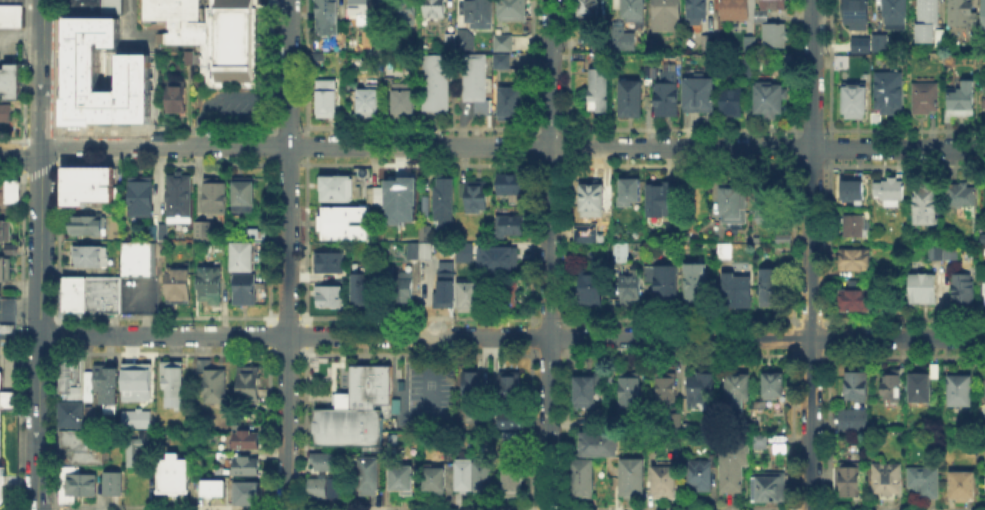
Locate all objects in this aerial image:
parking lot: (10, 2)
building: (772, 4)
building: (91, 6)
building: (587, 8)
building: (630, 8)
building: (170, 9)
building: (360, 9)
building: (434, 9)
building: (513, 9)
building: (734, 10)
building: (696, 11)
building: (403, 12)
building: (479, 12)
building: (856, 14)
building: (895, 14)
building: (962, 14)
building: (326, 15)
building: (11, 16)
building: (665, 16)
building: (760, 16)
building: (983, 16)
building: (929, 23)
parking lot: (132, 30)
building: (774, 36)
building: (620, 37)
building: (231, 38)
building: (193, 39)
building: (465, 40)
building: (450, 41)
building: (503, 42)
building: (706, 42)
building: (858, 43)
building: (879, 43)
building: (749, 44)
parking lot: (8, 47)
building: (379, 48)
building: (187, 55)
building: (595, 55)
building: (787, 59)
building: (839, 60)
building: (504, 64)
building: (748, 69)
building: (103, 73)
building: (474, 78)
building: (9, 81)
building: (436, 82)
building: (598, 90)
building: (664, 92)
building: (888, 92)
building: (699, 96)
building: (174, 97)
building: (326, 98)
building: (403, 98)
building: (925, 98)
building: (631, 99)
building: (768, 99)
building: (855, 100)
building: (367, 101)
building: (962, 101)
building: (511, 102)
building: (731, 102)
building: (984, 104)
building: (6, 114)
building: (875, 120)
road: (491, 147)
building: (84, 183)
building: (514, 185)
building: (346, 187)
building: (632, 191)
building: (889, 191)
building: (852, 192)
building: (10, 195)
building: (376, 196)
building: (409, 196)
building: (244, 197)
building: (142, 198)
building: (477, 198)
building: (216, 199)
building: (665, 200)
building: (180, 201)
building: (963, 201)
building: (595, 203)
building: (445, 205)
building: (734, 205)
building: (925, 205)
building: (773, 207)
building: (345, 225)
building: (88, 227)
building: (510, 228)
building: (855, 228)
building: (205, 232)
building: (6, 233)
building: (255, 233)
building: (427, 233)
building: (587, 236)
building: (784, 240)
building: (162, 241)
building: (13, 251)
building: (462, 251)
building: (428, 252)
building: (623, 253)
building: (725, 253)
building: (944, 253)
road: (39, 254)
building: (89, 254)
road: (287, 254)
road: (549, 254)
road: (809, 254)
building: (496, 257)
building: (136, 258)
building: (244, 258)
building: (855, 261)
building: (331, 264)
building: (6, 272)
building: (70, 284)
building: (667, 284)
building: (698, 286)
building: (180, 287)
building: (404, 287)
building: (213, 289)
building: (362, 289)
building: (444, 289)
building: (591, 289)
building: (738, 289)
building: (772, 289)
building: (632, 290)
building: (923, 290)
building: (962, 291)
building: (245, 292)
building: (983, 292)
building: (100, 293)
building: (136, 293)
building: (471, 294)
building: (330, 297)
building: (508, 298)
building: (855, 300)
building: (71, 302)
road: (19, 334)
road: (511, 336)
building: (69, 374)
building: (104, 381)
building: (509, 383)
building: (140, 384)
building: (215, 385)
building: (248, 385)
building: (472, 385)
building: (175, 387)
building: (859, 387)
building: (667, 388)
building: (740, 388)
building: (774, 388)
building: (892, 389)
building: (921, 389)
building: (702, 390)
building: (960, 391)
building: (629, 392)
building: (588, 393)
building: (6, 397)
parking lot: (427, 397)
building: (357, 408)
building: (68, 413)
building: (0, 415)
building: (135, 417)
building: (508, 417)
building: (855, 421)
building: (677, 422)
building: (638, 424)
building: (245, 439)
building: (510, 439)
building: (654, 442)
building: (762, 442)
building: (79, 446)
building: (596, 447)
building: (135, 456)
building: (323, 459)
building: (245, 464)
building: (735, 466)
building: (461, 474)
building: (366, 475)
building: (480, 475)
building: (178, 477)
building: (400, 477)
building: (433, 478)
building: (511, 478)
building: (665, 478)
building: (699, 478)
building: (584, 480)
building: (633, 480)
building: (886, 480)
building: (110, 481)
building: (850, 481)
building: (924, 482)
building: (76, 485)
building: (315, 485)
building: (335, 486)
building: (0, 487)
building: (212, 487)
building: (772, 488)
building: (964, 489)
building: (246, 495)

